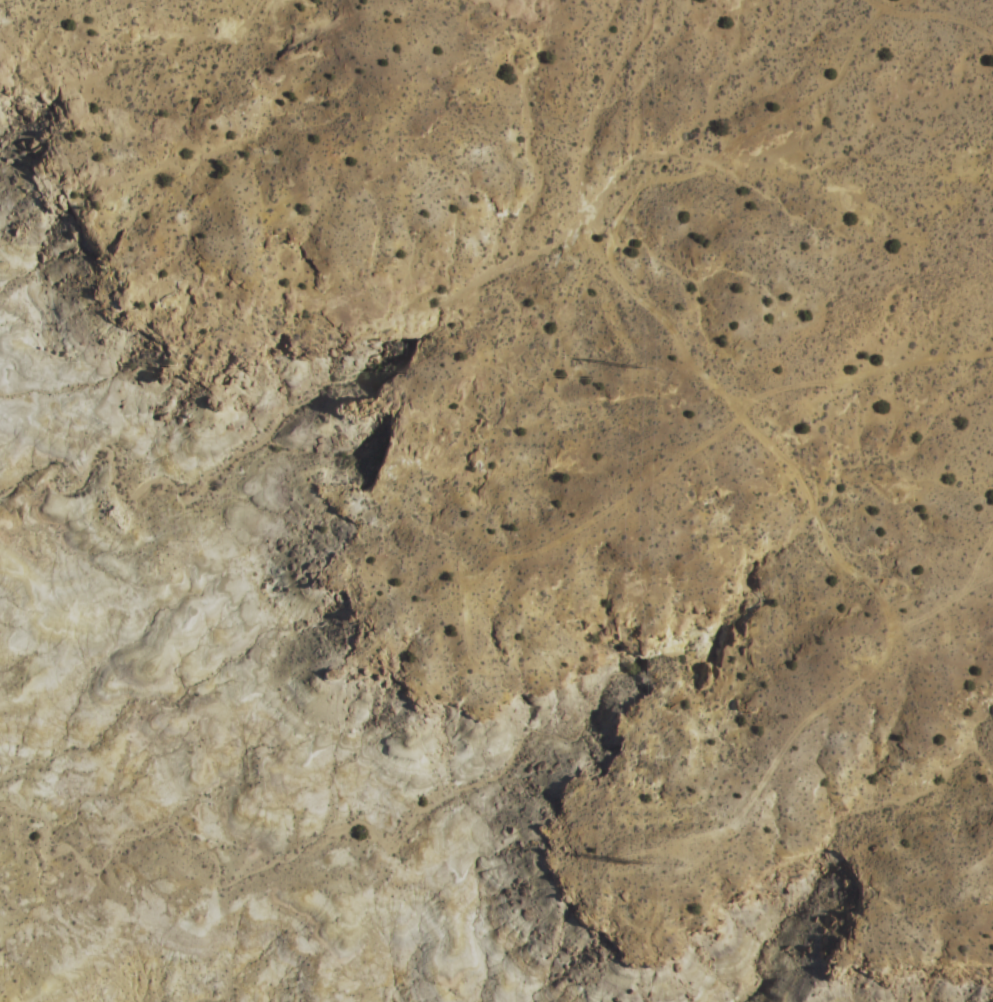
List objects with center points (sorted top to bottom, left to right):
power tower: (633, 366)
power tower: (635, 861)

